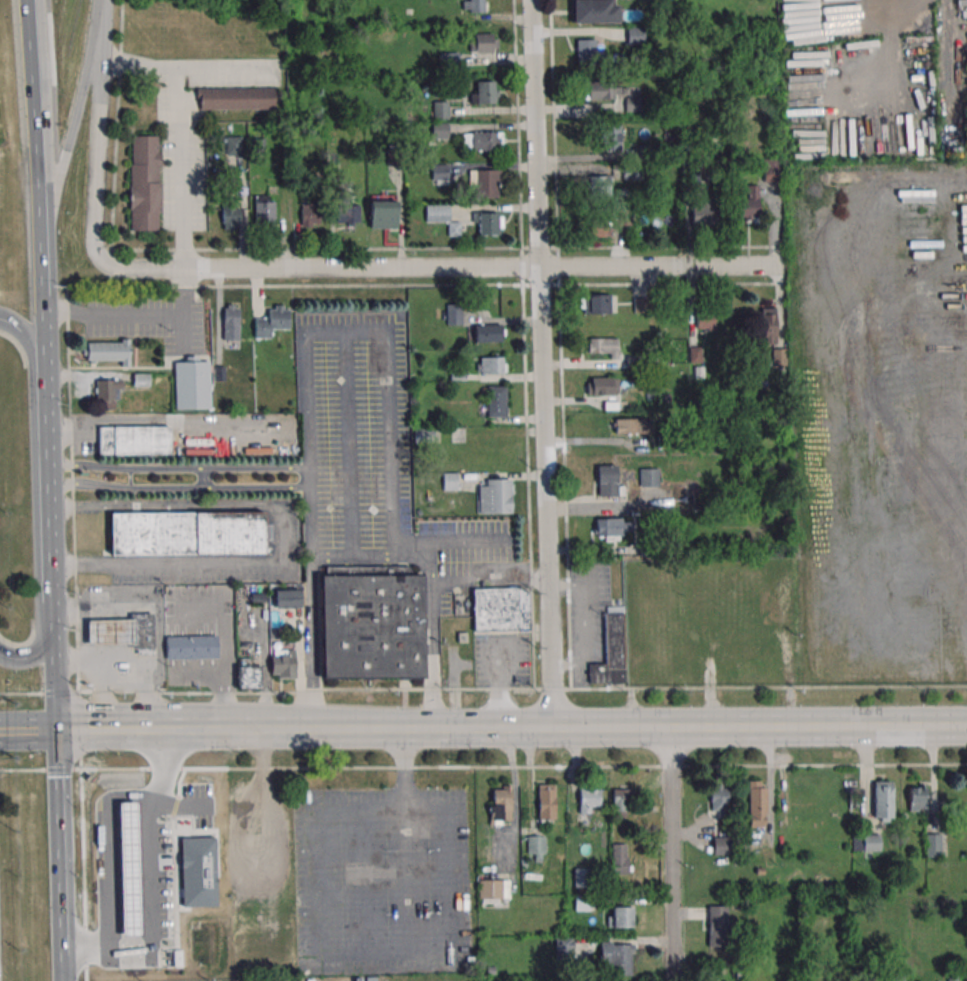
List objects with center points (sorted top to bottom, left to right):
building: (477, 5)
building: (593, 11)
road: (100, 12)
building: (635, 35)
building: (483, 41)
building: (586, 50)
building: (484, 92)
building: (615, 93)
building: (236, 98)
road: (34, 105)
building: (439, 109)
road: (71, 117)
road: (116, 124)
building: (439, 130)
road: (175, 135)
building: (609, 136)
building: (481, 141)
road: (96, 143)
building: (234, 145)
building: (771, 169)
building: (439, 173)
building: (632, 173)
building: (486, 181)
building: (145, 183)
building: (597, 186)
building: (749, 204)
building: (264, 209)
building: (347, 211)
building: (383, 212)
building: (705, 213)
building: (310, 214)
building: (230, 217)
building: (441, 217)
building: (487, 223)
building: (597, 228)
road: (447, 248)
road: (439, 266)
road: (42, 285)
road: (425, 285)
road: (177, 289)
building: (596, 304)
road: (104, 310)
building: (272, 321)
building: (231, 322)
building: (769, 325)
road: (26, 334)
building: (487, 334)
road: (389, 338)
road: (523, 344)
road: (559, 344)
building: (603, 347)
building: (107, 351)
road: (542, 363)
building: (491, 365)
building: (191, 385)
building: (603, 386)
building: (107, 392)
building: (496, 401)
building: (632, 426)
building: (133, 440)
road: (350, 446)
building: (487, 453)
road: (177, 469)
road: (308, 478)
road: (205, 479)
building: (607, 480)
building: (450, 481)
building: (648, 485)
road: (177, 489)
building: (495, 496)
road: (47, 502)
building: (612, 528)
building: (186, 533)
road: (272, 534)
road: (463, 541)
road: (336, 560)
building: (776, 566)
road: (430, 575)
road: (489, 581)
building: (632, 581)
building: (286, 598)
building: (500, 609)
building: (640, 618)
road: (583, 624)
building: (711, 624)
building: (370, 626)
building: (142, 633)
road: (76, 634)
building: (112, 635)
traffic signals: (51, 643)
road: (312, 643)
building: (763, 644)
building: (191, 647)
building: (611, 649)
building: (729, 653)
road: (429, 655)
road: (26, 656)
building: (282, 662)
building: (247, 674)
road: (228, 676)
road: (496, 681)
road: (51, 686)
road: (522, 690)
road: (39, 692)
road: (568, 728)
road: (112, 729)
road: (27, 730)
traffic signals: (54, 730)
road: (515, 797)
building: (918, 797)
building: (718, 798)
building: (622, 799)
building: (589, 800)
building: (546, 801)
building: (883, 801)
building: (757, 803)
building: (500, 804)
road: (178, 806)
road: (149, 838)
building: (871, 842)
building: (933, 844)
building: (721, 845)
building: (535, 848)
road: (107, 852)
road: (668, 854)
road: (57, 855)
building: (620, 858)
building: (131, 872)
building: (198, 874)
building: (581, 877)
parking lot: (381, 881)
building: (493, 888)
building: (619, 917)
building: (716, 925)
building: (153, 945)
building: (564, 947)
road: (104, 949)
road: (322, 951)
building: (617, 958)
building: (370, 979)

